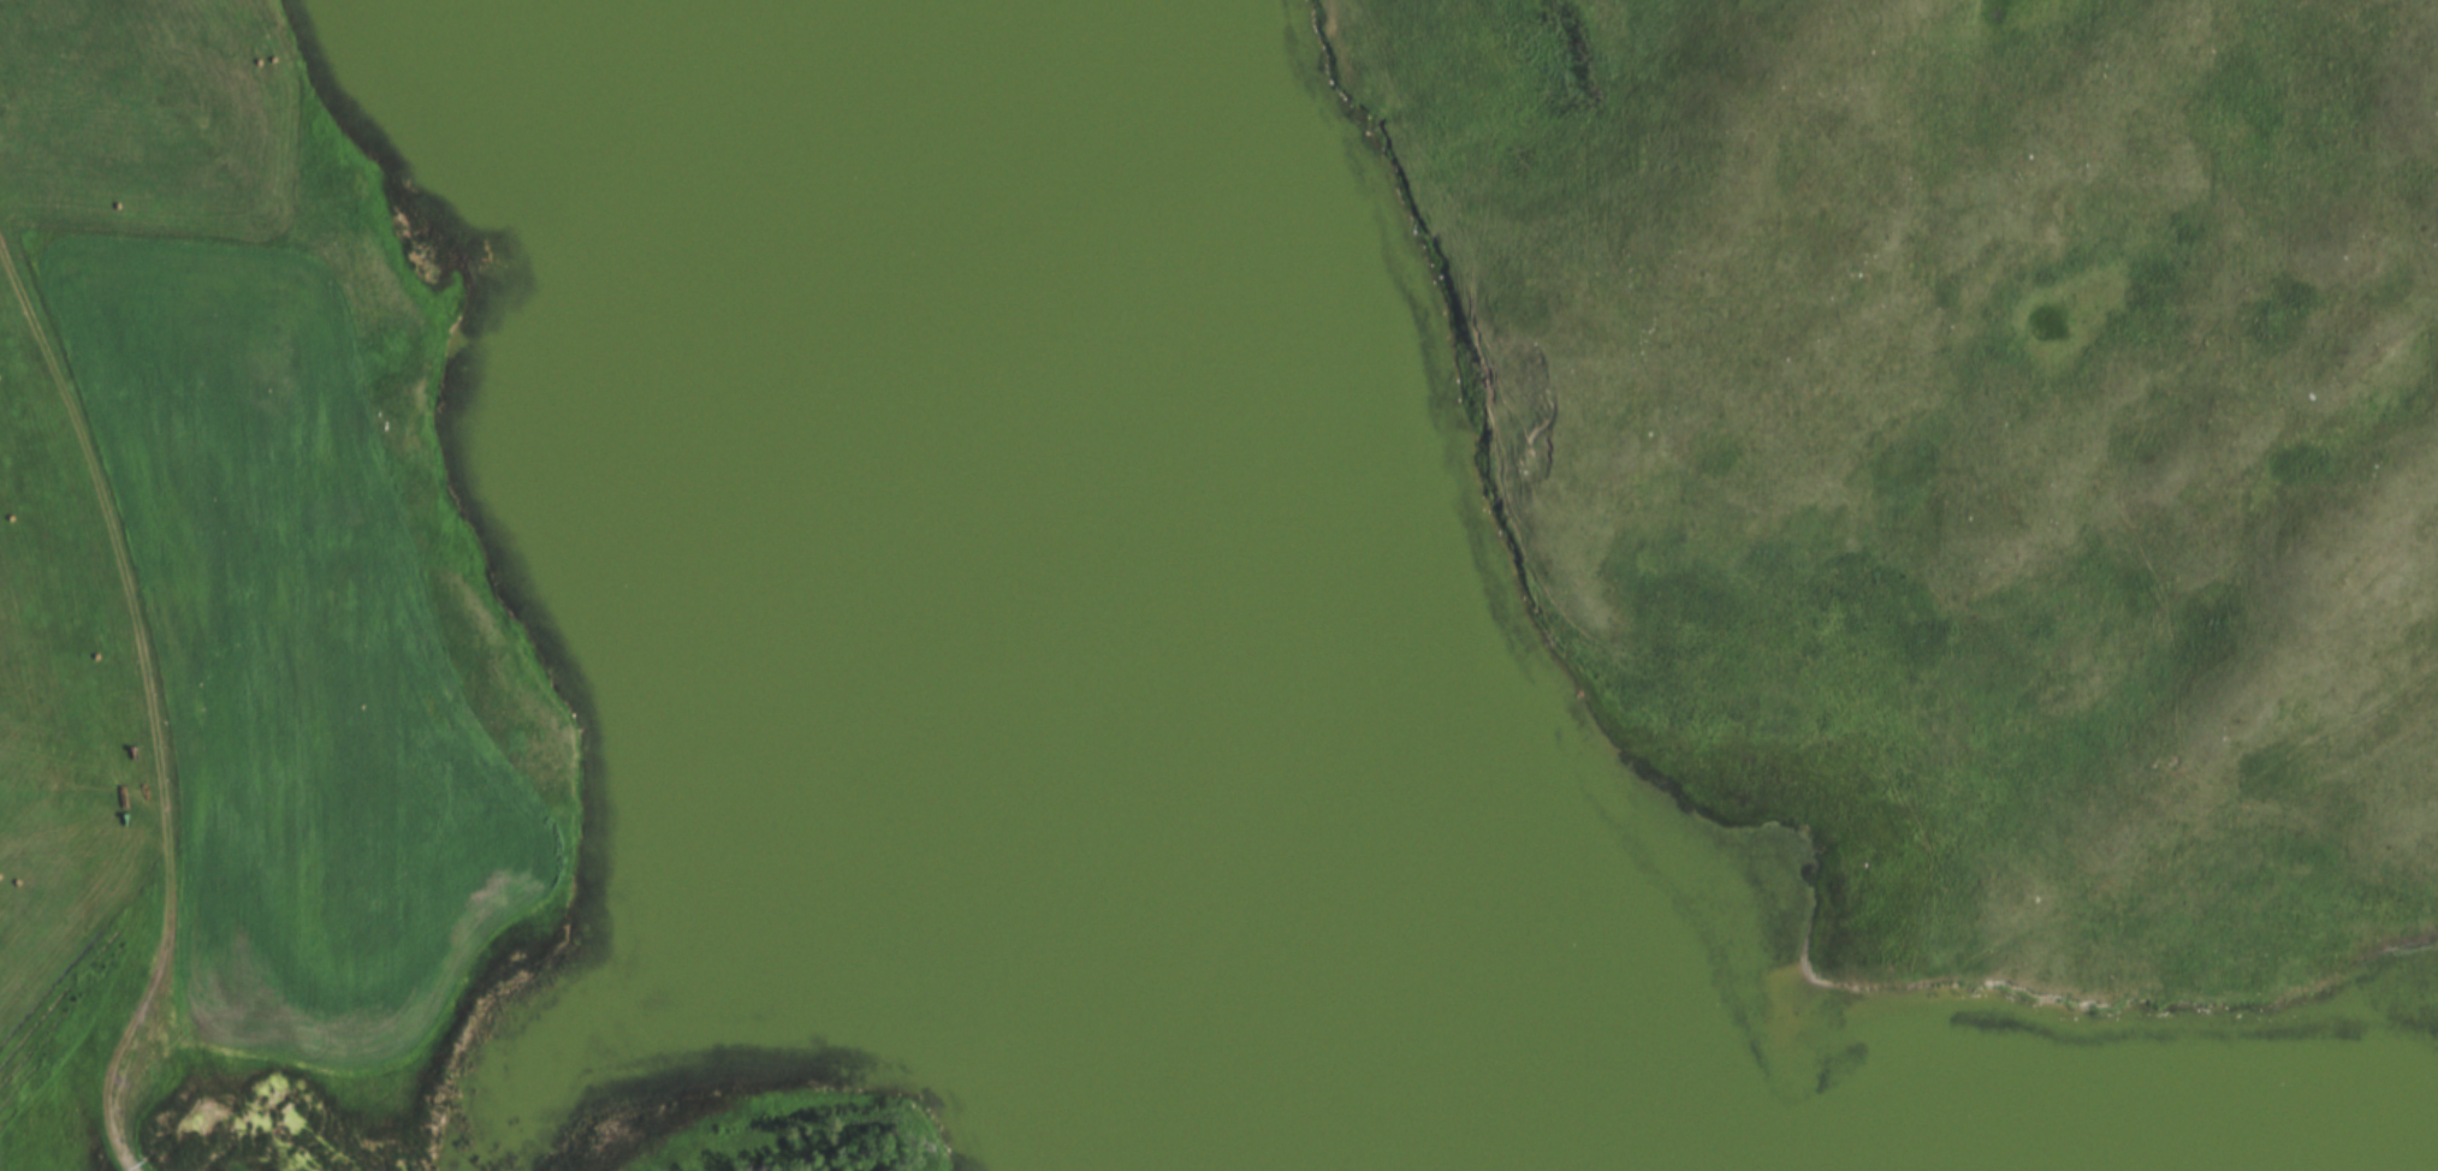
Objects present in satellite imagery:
road: (147, 1012)

